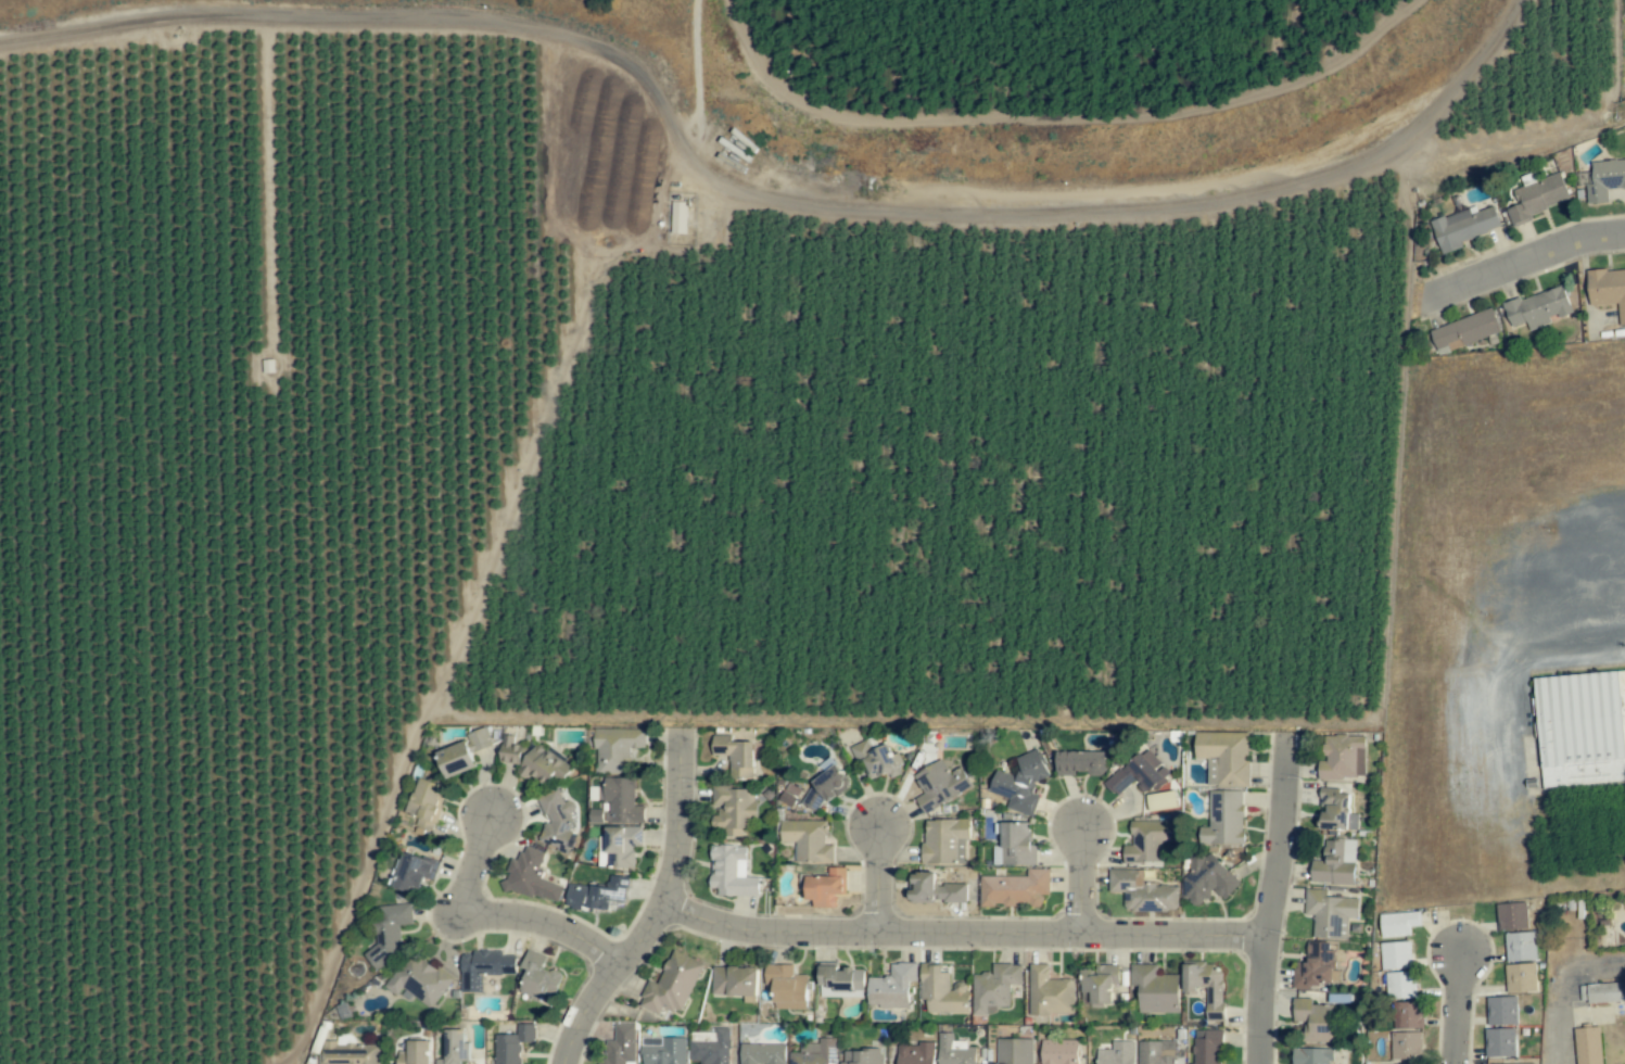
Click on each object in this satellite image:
building: (1602, 179)
road: (760, 197)
building: (1537, 198)
building: (678, 217)
building: (1462, 227)
road: (1518, 263)
building: (1608, 289)
building: (1537, 308)
building: (1465, 330)
crop: (666, 418)
building: (1580, 729)
building: (481, 737)
building: (615, 748)
building: (735, 755)
building: (1223, 757)
building: (1342, 757)
building: (455, 759)
building: (878, 760)
building: (1080, 762)
building: (1137, 773)
building: (1020, 783)
building: (939, 785)
building: (825, 786)
building: (789, 795)
building: (617, 802)
building: (426, 805)
building: (1335, 809)
building: (733, 810)
building: (1223, 820)
building: (808, 840)
building: (1148, 840)
building: (944, 841)
building: (1017, 844)
building: (619, 847)
building: (1335, 863)
building: (412, 871)
building: (732, 872)
building: (531, 876)
building: (1207, 879)
road: (883, 884)
road: (1084, 885)
building: (826, 888)
building: (1015, 888)
building: (935, 889)
building: (1142, 891)
building: (596, 895)
road: (1274, 899)
road: (661, 908)
building: (1329, 913)
road: (504, 916)
building: (1512, 916)
building: (1398, 923)
building: (390, 932)
road: (964, 935)
building: (1521, 946)
building: (1395, 955)
building: (1315, 965)
building: (484, 967)
building: (537, 975)
building: (836, 977)
building: (1521, 977)
building: (419, 979)
building: (735, 980)
building: (672, 984)
building: (1400, 985)
building: (786, 987)
building: (892, 987)
building: (1208, 987)
building: (994, 988)
building: (1155, 989)
building: (942, 990)
road: (1561, 990)
building: (1050, 992)
building: (1602, 992)
road: (1460, 1010)
building: (1501, 1011)
building: (1313, 1019)
building: (1406, 1029)
building: (526, 1033)
building: (1500, 1042)
building: (620, 1044)
building: (1588, 1046)
building: (1207, 1047)
building: (455, 1048)
building: (507, 1049)
building: (711, 1049)
building: (663, 1050)
building: (954, 1051)
building: (1014, 1051)
building: (1058, 1051)
building: (417, 1052)
building: (814, 1052)
building: (1156, 1052)
building: (915, 1053)
building: (1117, 1053)
building: (350, 1054)
building: (1311, 1055)
building: (862, 1056)
building: (1512, 1063)

